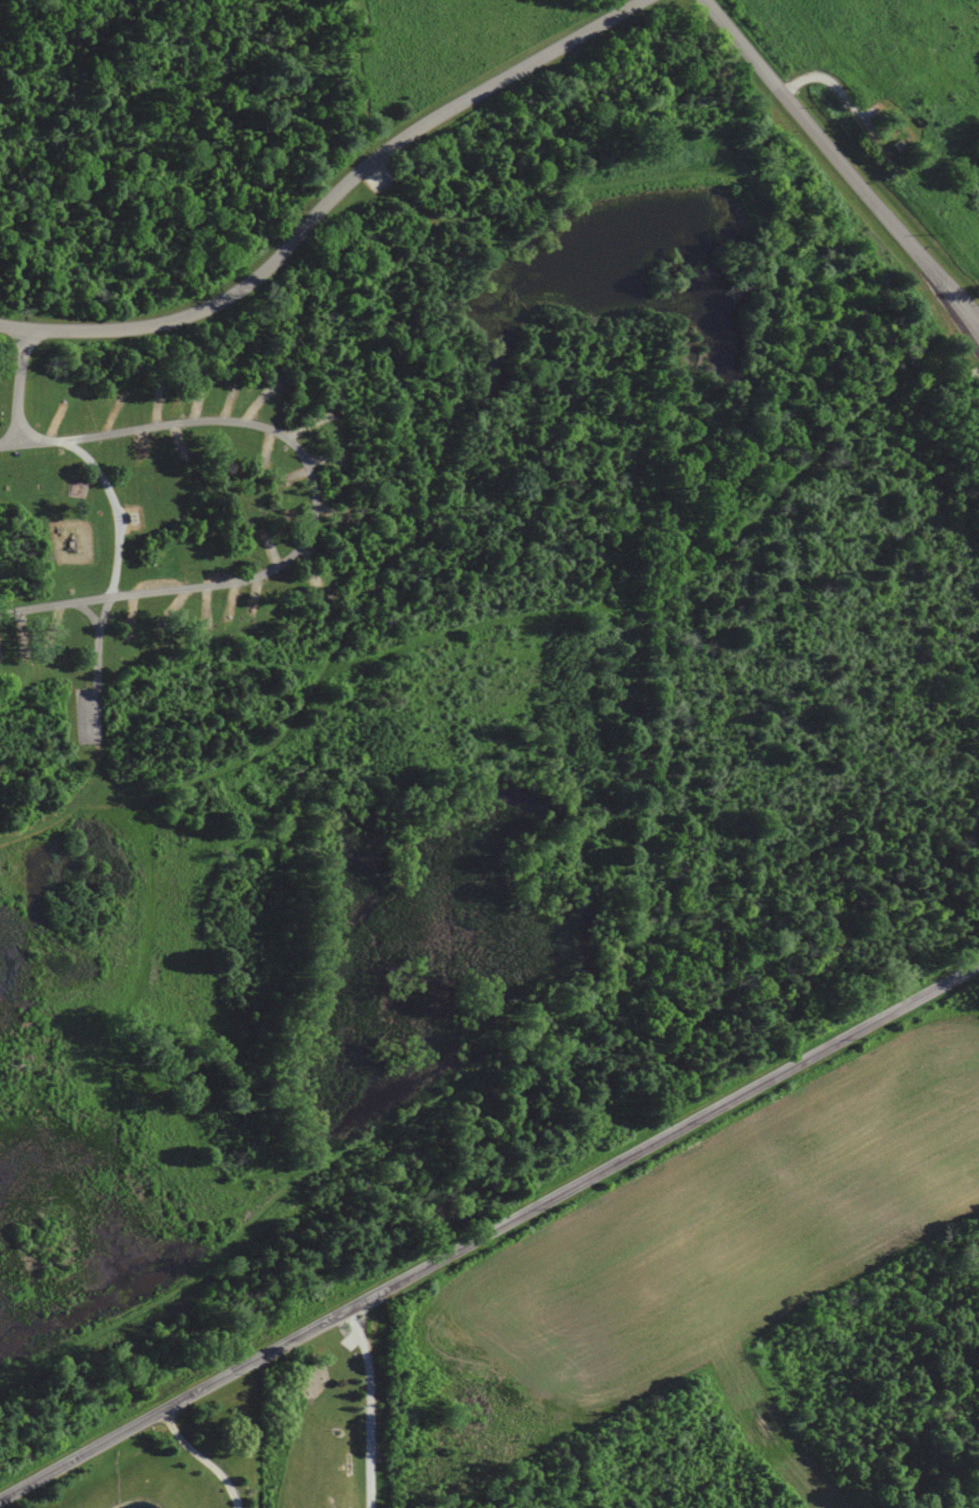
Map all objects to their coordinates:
road: (899, 95)
road: (894, 109)
road: (689, 140)
road: (839, 161)
road: (337, 208)
road: (972, 292)
road: (966, 312)
road: (21, 382)
road: (452, 440)
road: (792, 466)
road: (315, 503)
road: (113, 578)
road: (361, 605)
road: (290, 973)
road: (487, 1112)
road: (489, 1232)
road: (205, 1459)

